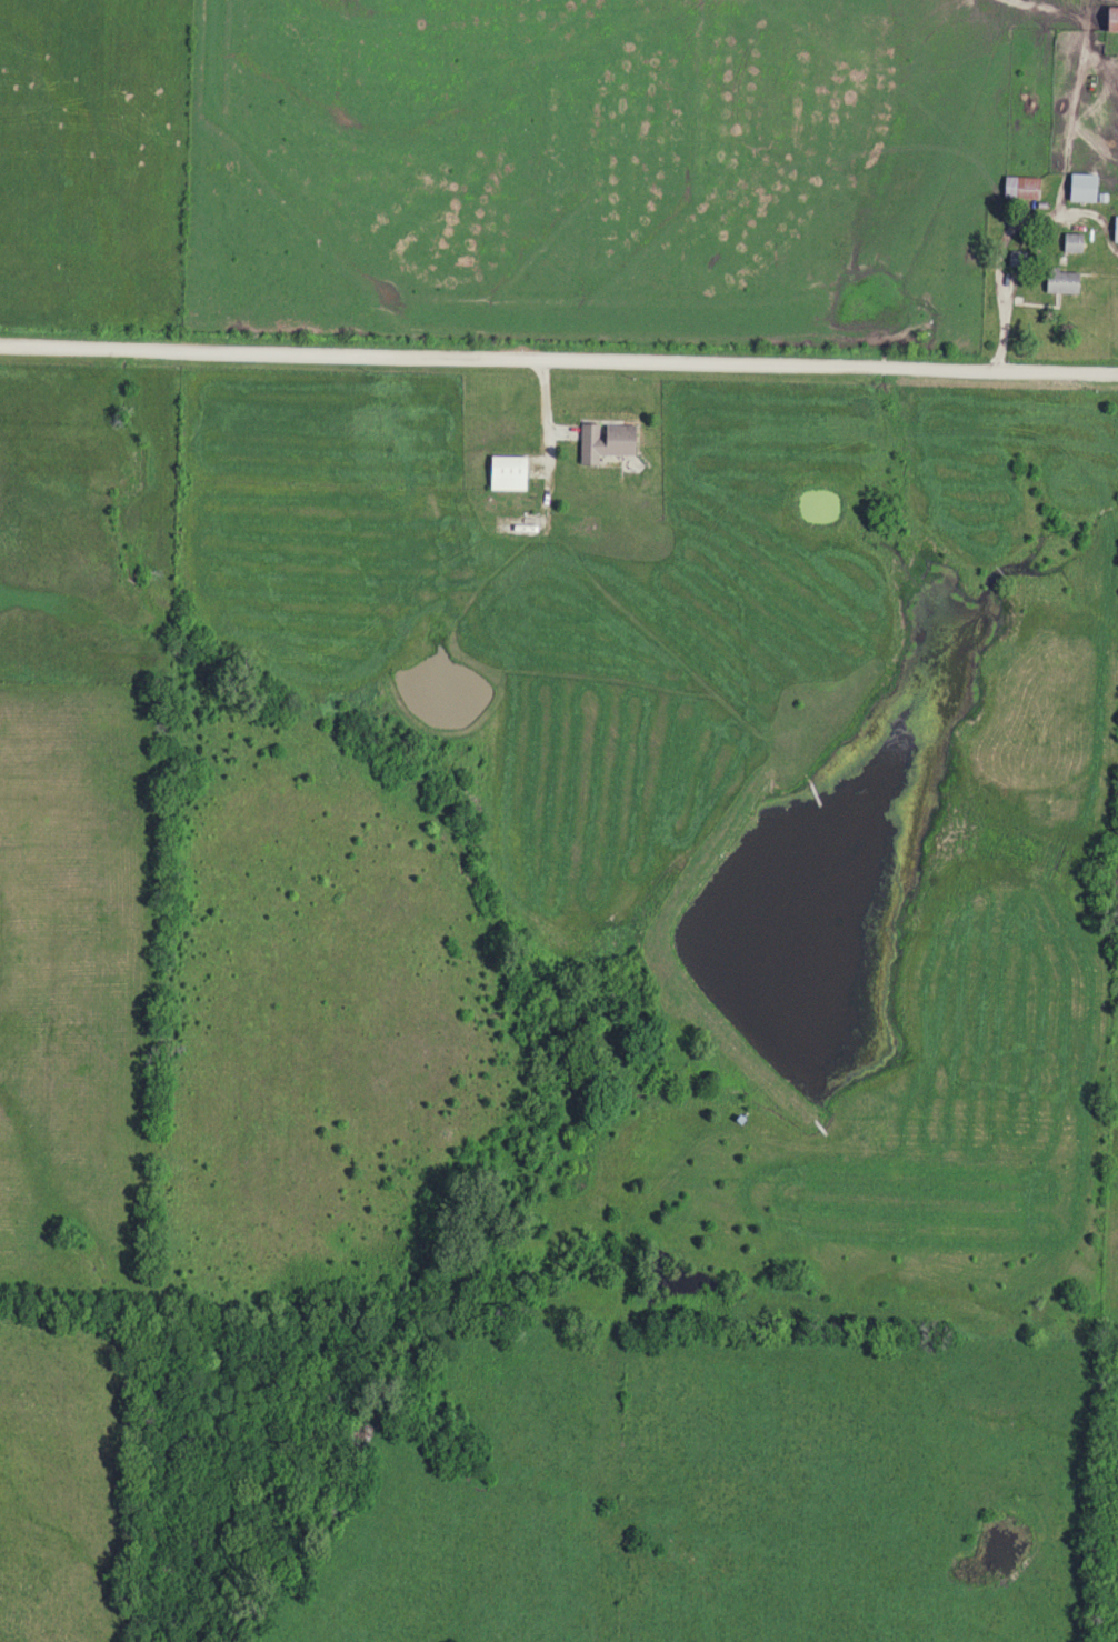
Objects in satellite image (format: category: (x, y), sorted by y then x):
building: (1109, 19)
building: (1080, 187)
building: (1019, 188)
building: (1114, 229)
road: (1006, 234)
building: (1070, 242)
building: (1059, 281)
road: (559, 361)
road: (546, 433)
building: (602, 441)
building: (503, 473)

